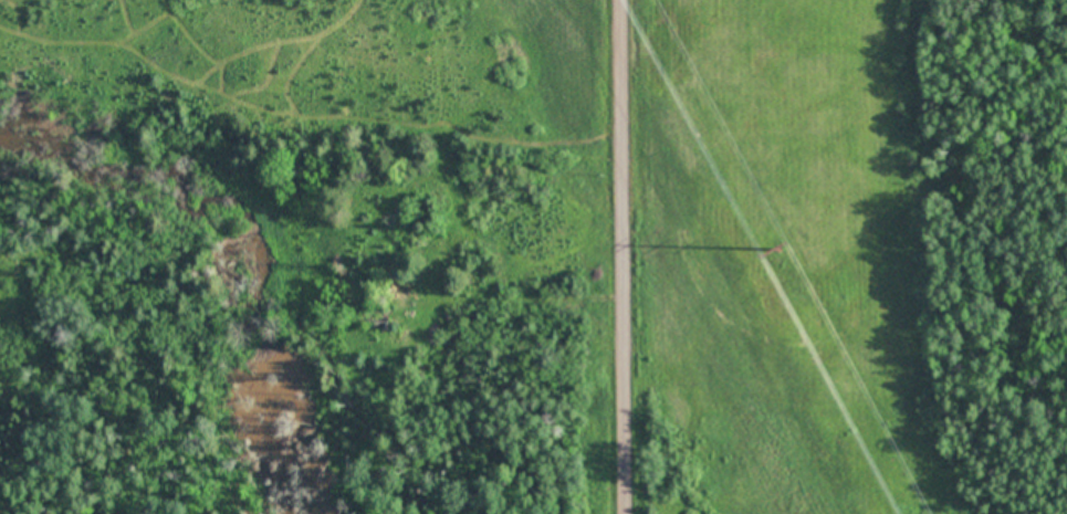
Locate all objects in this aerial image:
crop: (775, 209)
power tower: (776, 245)
road: (628, 256)

